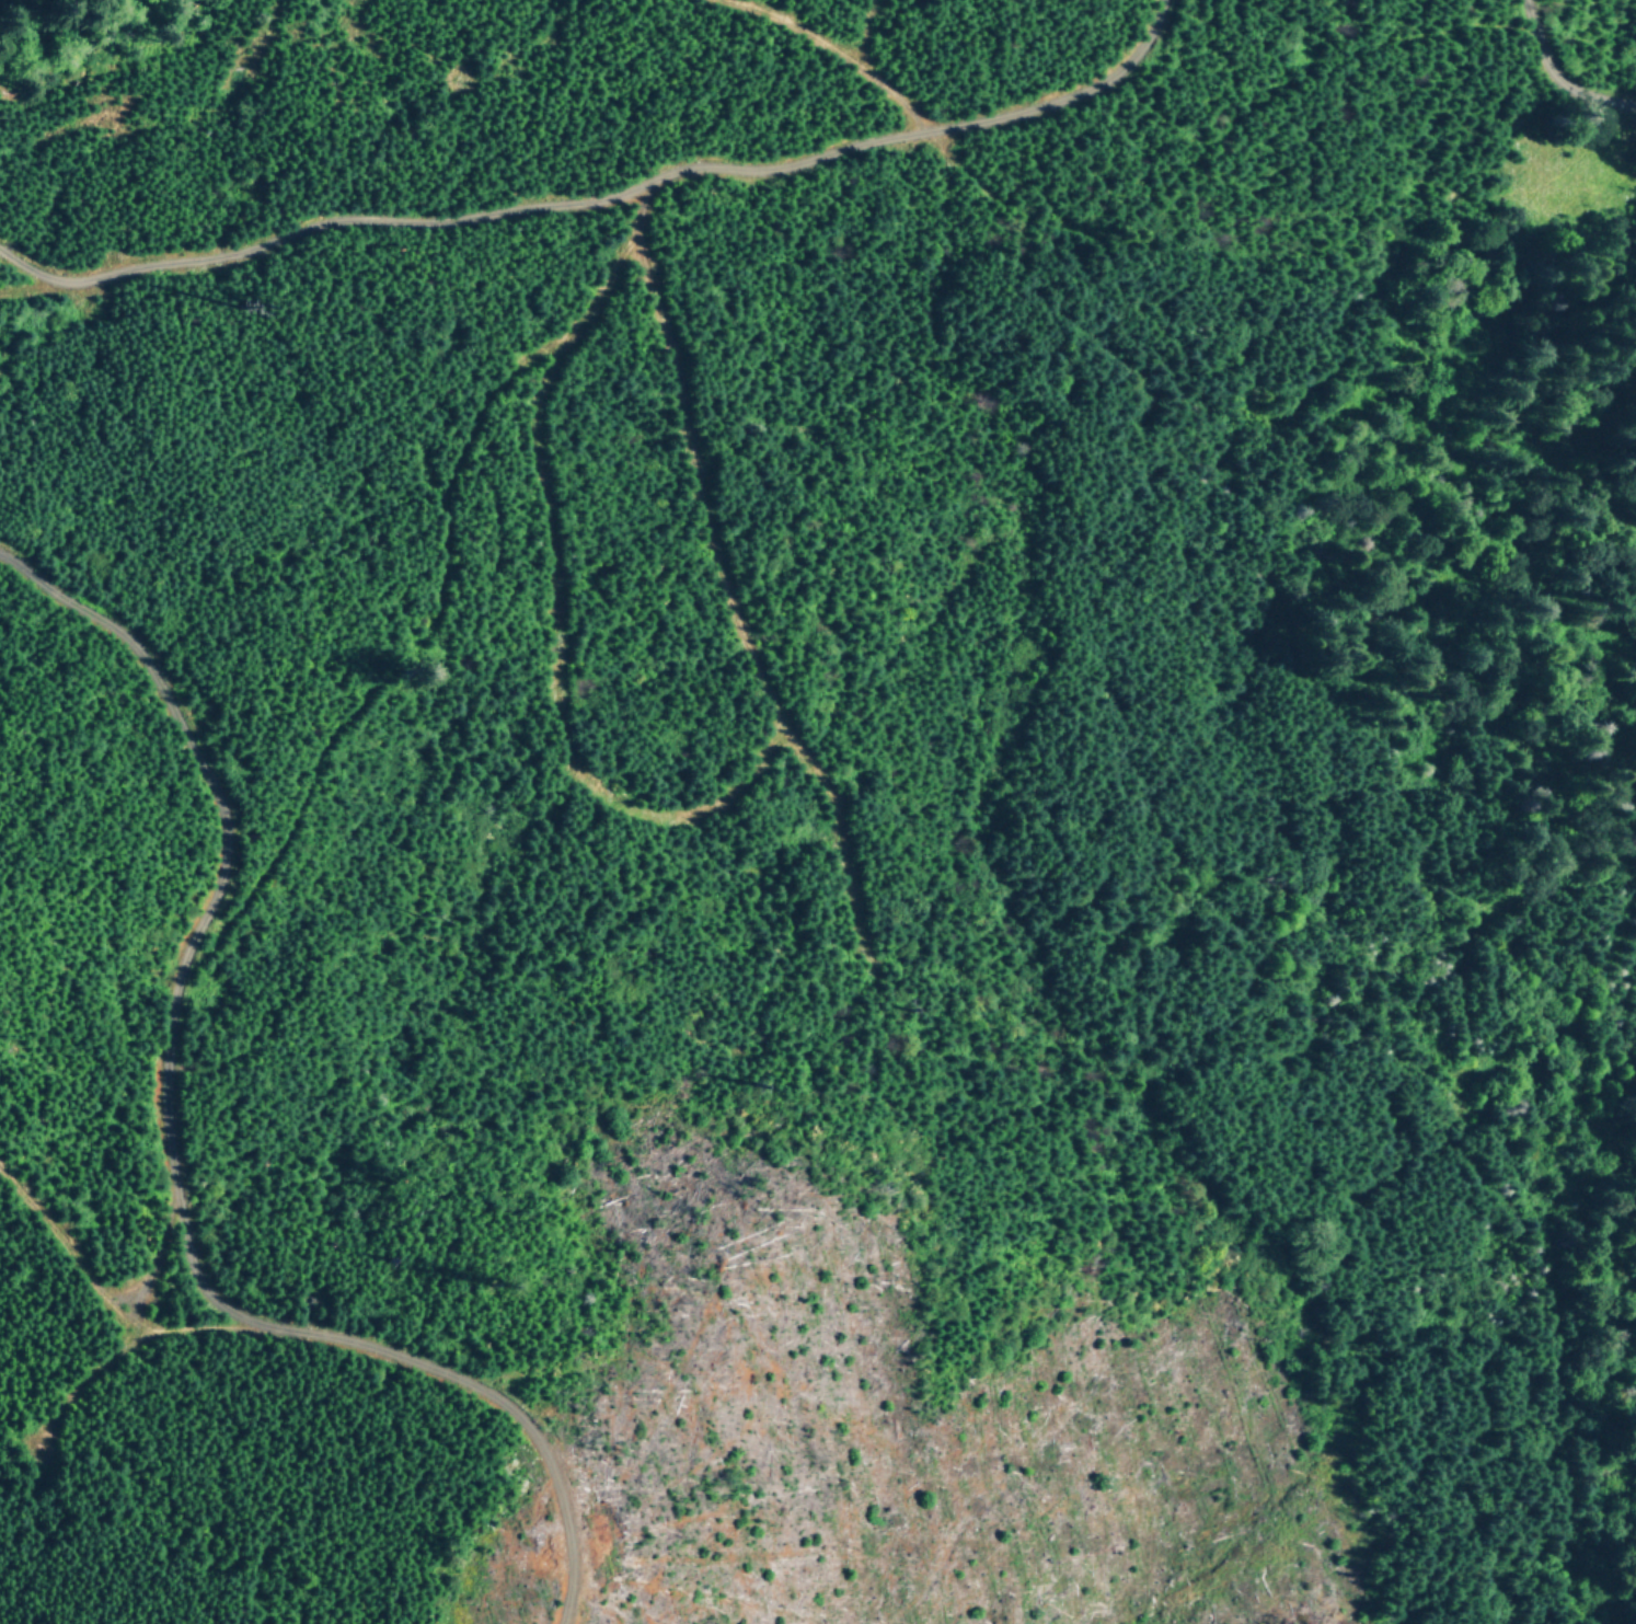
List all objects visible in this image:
road: (839, 69)
road: (1557, 70)
road: (608, 195)
road: (170, 1159)

